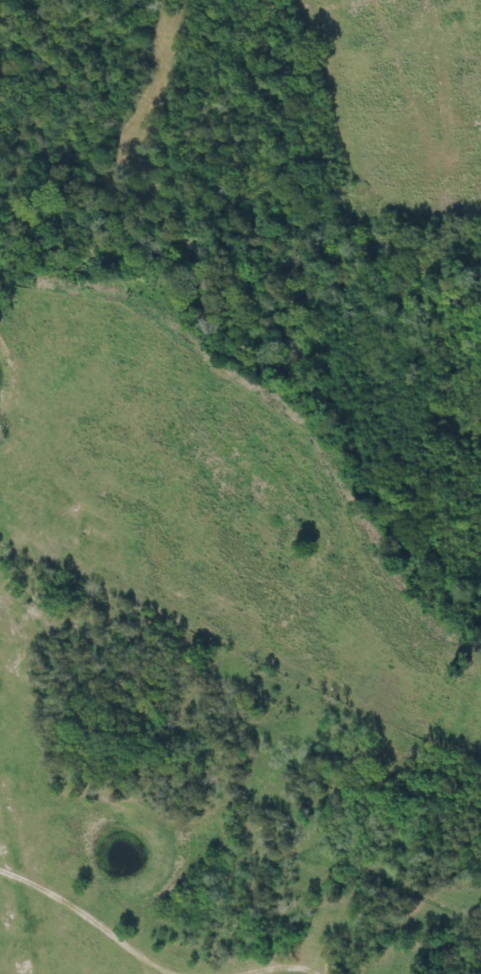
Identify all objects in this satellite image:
railway: (37, 796)

